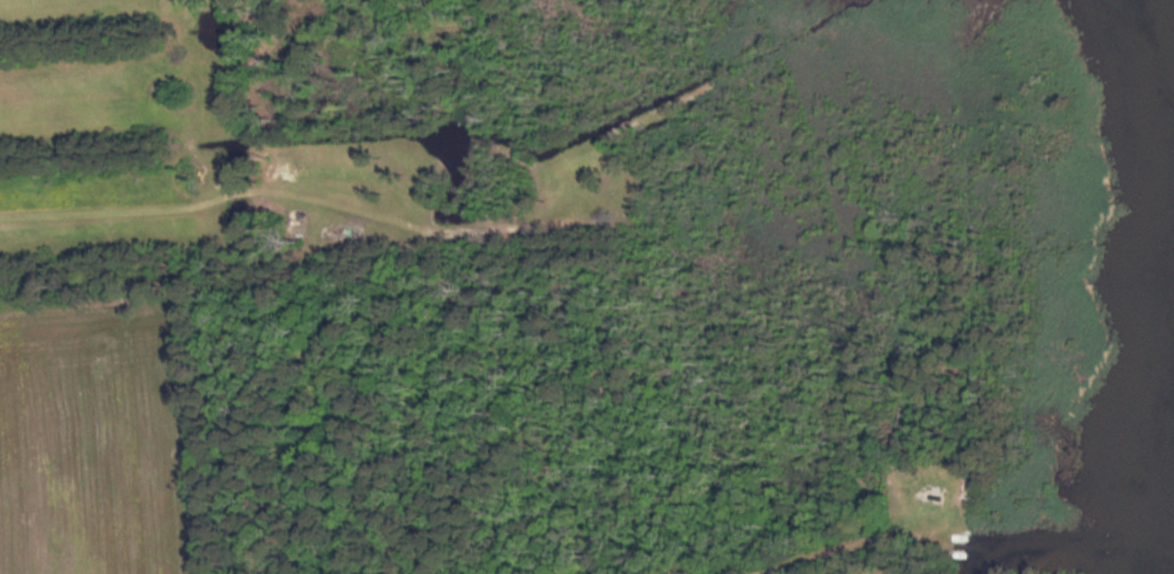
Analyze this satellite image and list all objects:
road: (298, 193)
crop: (97, 439)
pier: (958, 542)
road: (841, 549)
pier: (958, 550)

